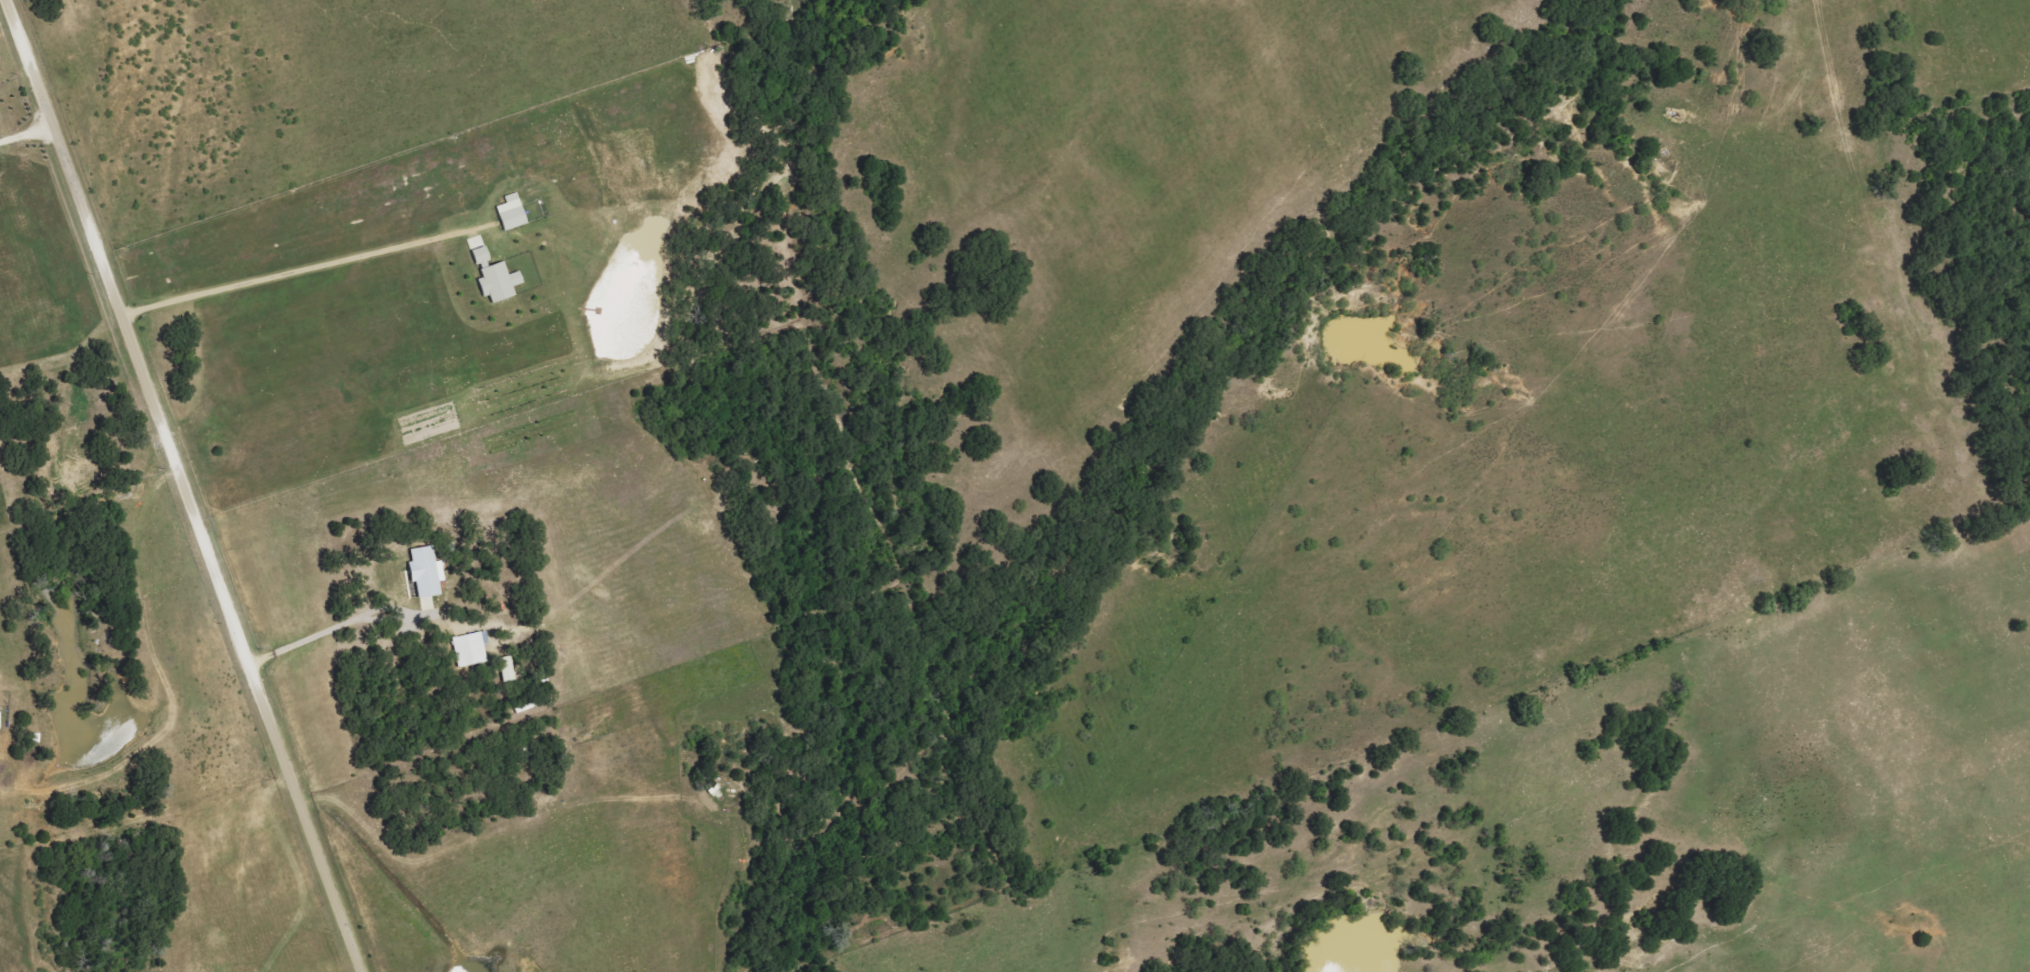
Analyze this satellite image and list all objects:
road: (25, 132)
building: (513, 212)
building: (483, 255)
road: (287, 272)
building: (500, 282)
road: (182, 486)
building: (427, 571)
road: (346, 622)
building: (471, 649)

